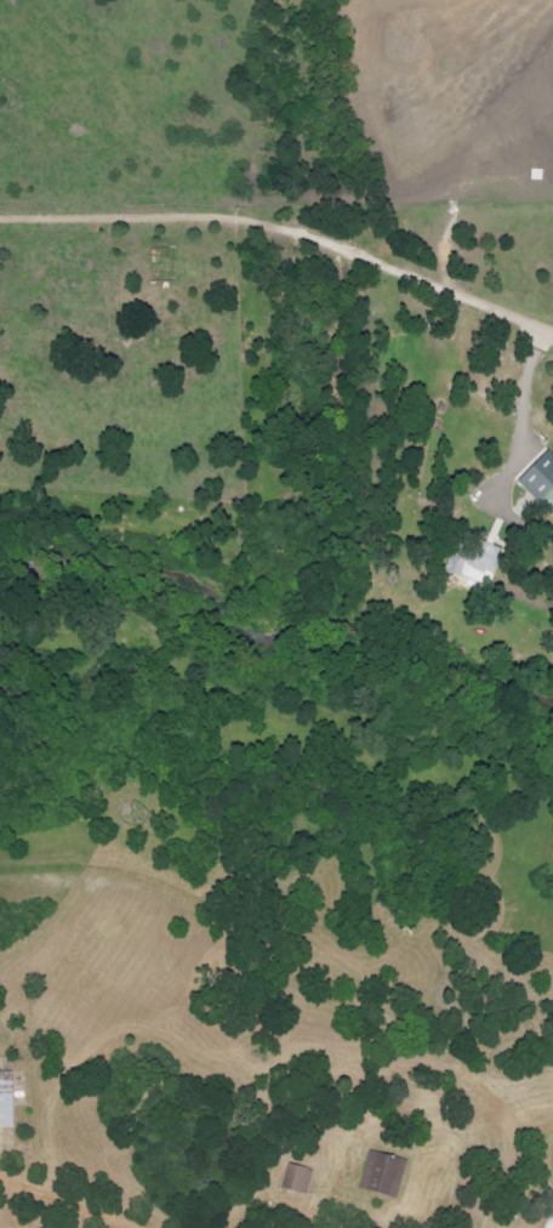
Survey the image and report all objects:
road: (280, 232)
road: (520, 394)
building: (543, 479)
building: (480, 563)
building: (7, 1099)
building: (386, 1173)
building: (297, 1178)
road: (62, 1203)

